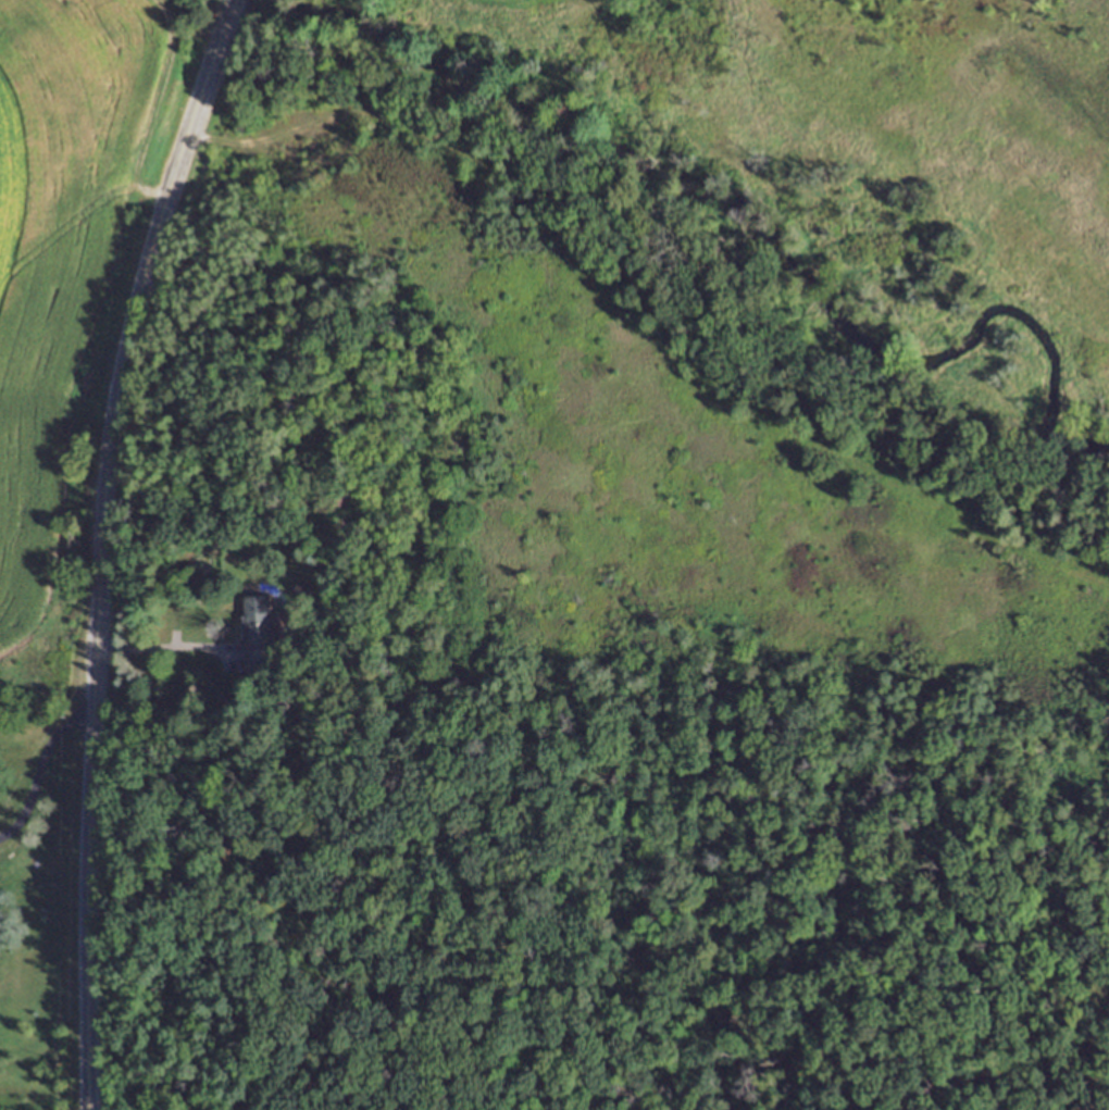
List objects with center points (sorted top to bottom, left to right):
road: (233, 2)
building: (333, 501)
road: (102, 548)
building: (258, 631)
road: (158, 632)
building: (221, 694)
road: (39, 772)

